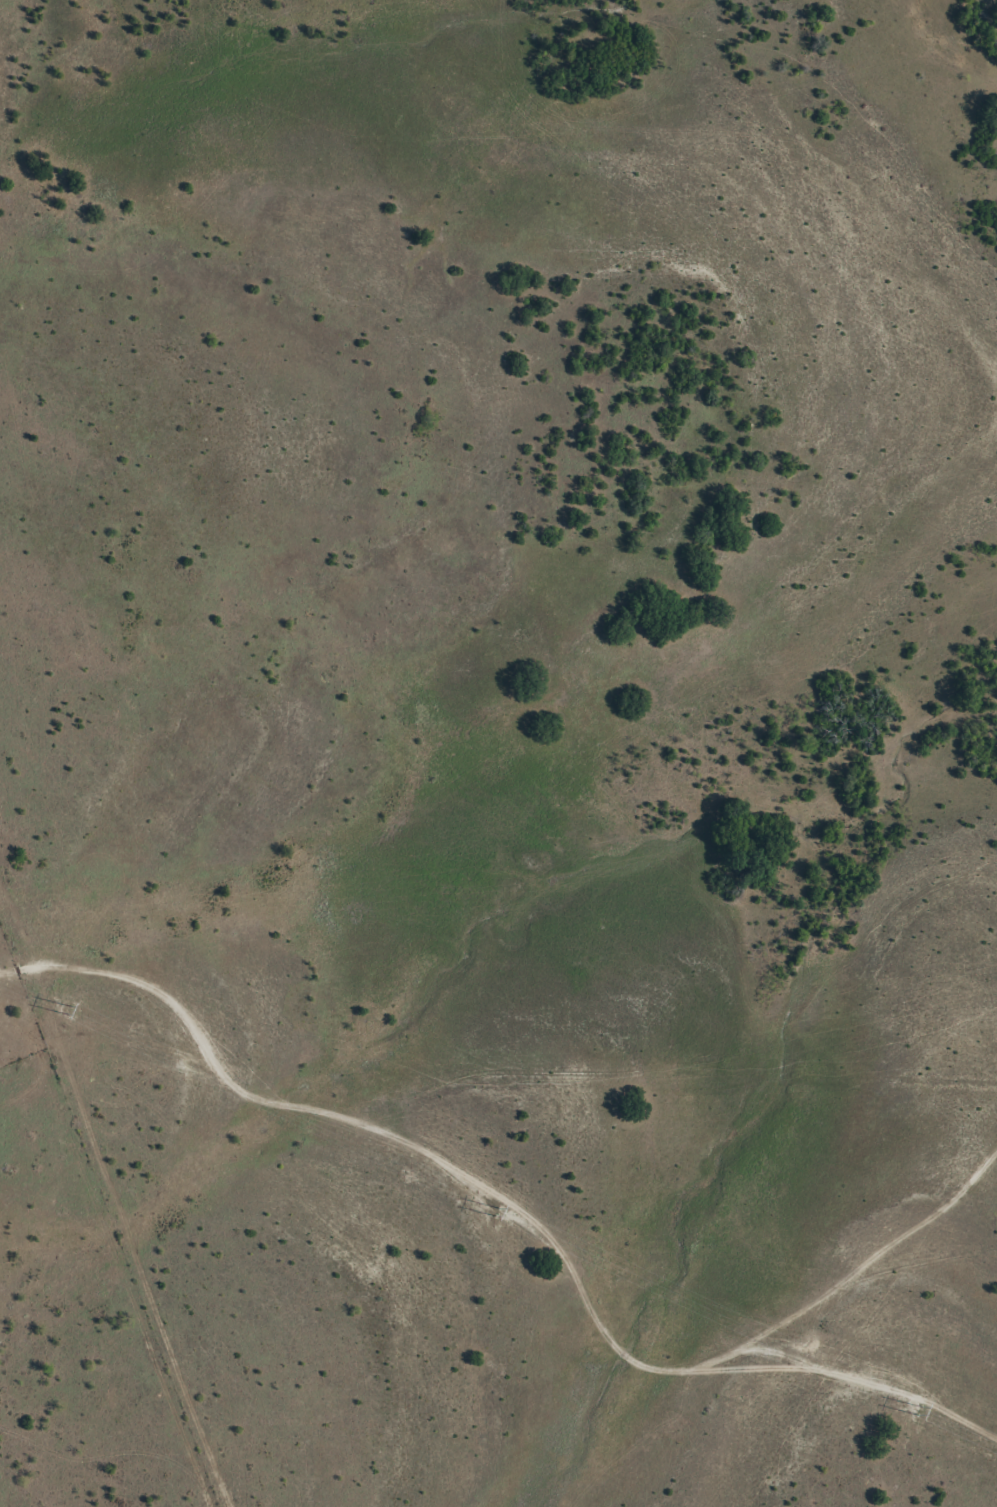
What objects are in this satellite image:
power tower: (8, 982)
road: (501, 1103)
power tower: (307, 1123)
power tower: (599, 1260)
power tower: (924, 1413)

